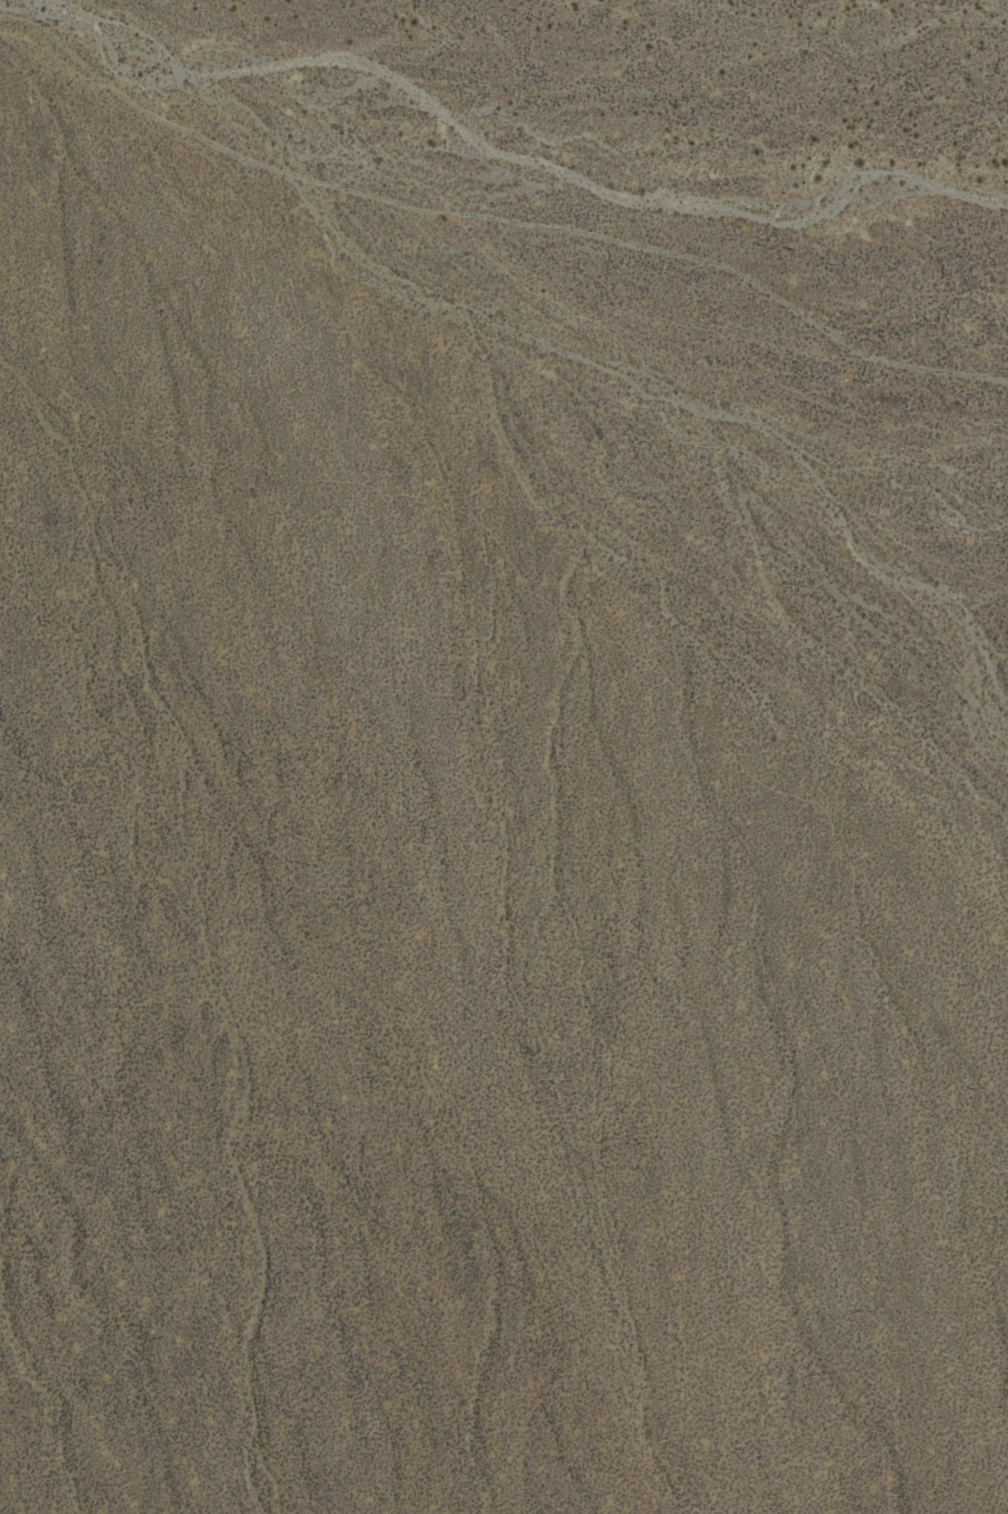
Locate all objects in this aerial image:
road: (494, 221)

